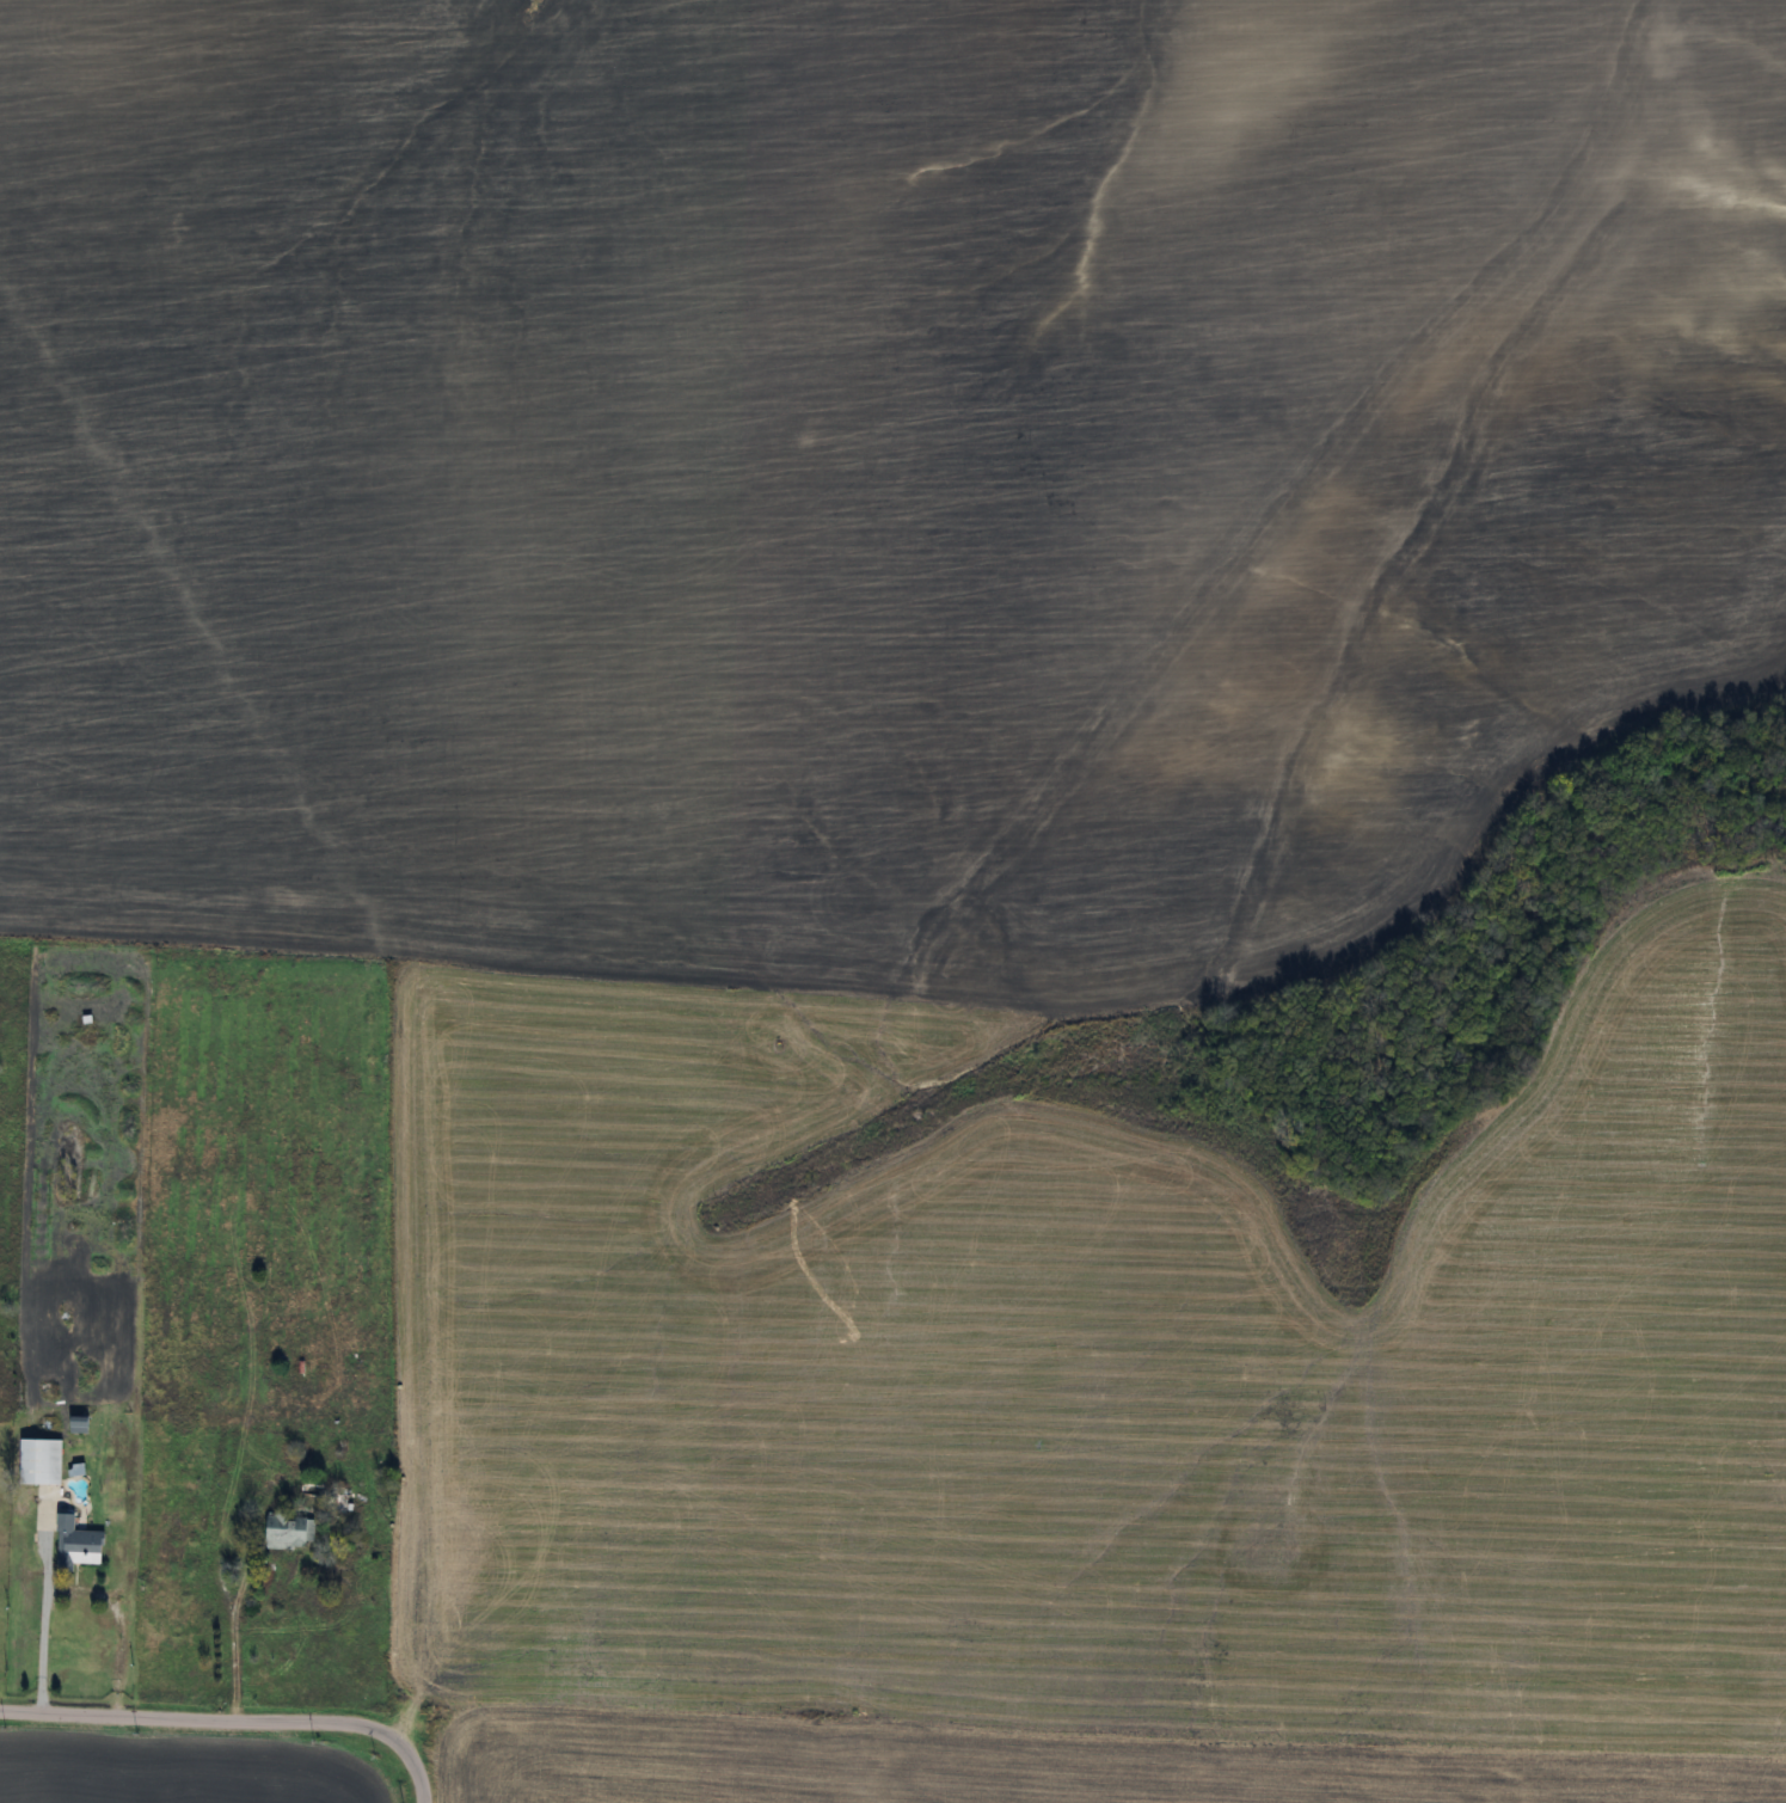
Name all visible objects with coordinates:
building: (37, 1461)
building: (287, 1532)
building: (74, 1545)
road: (43, 1621)
road: (115, 1625)
road: (233, 1643)
road: (234, 1721)

